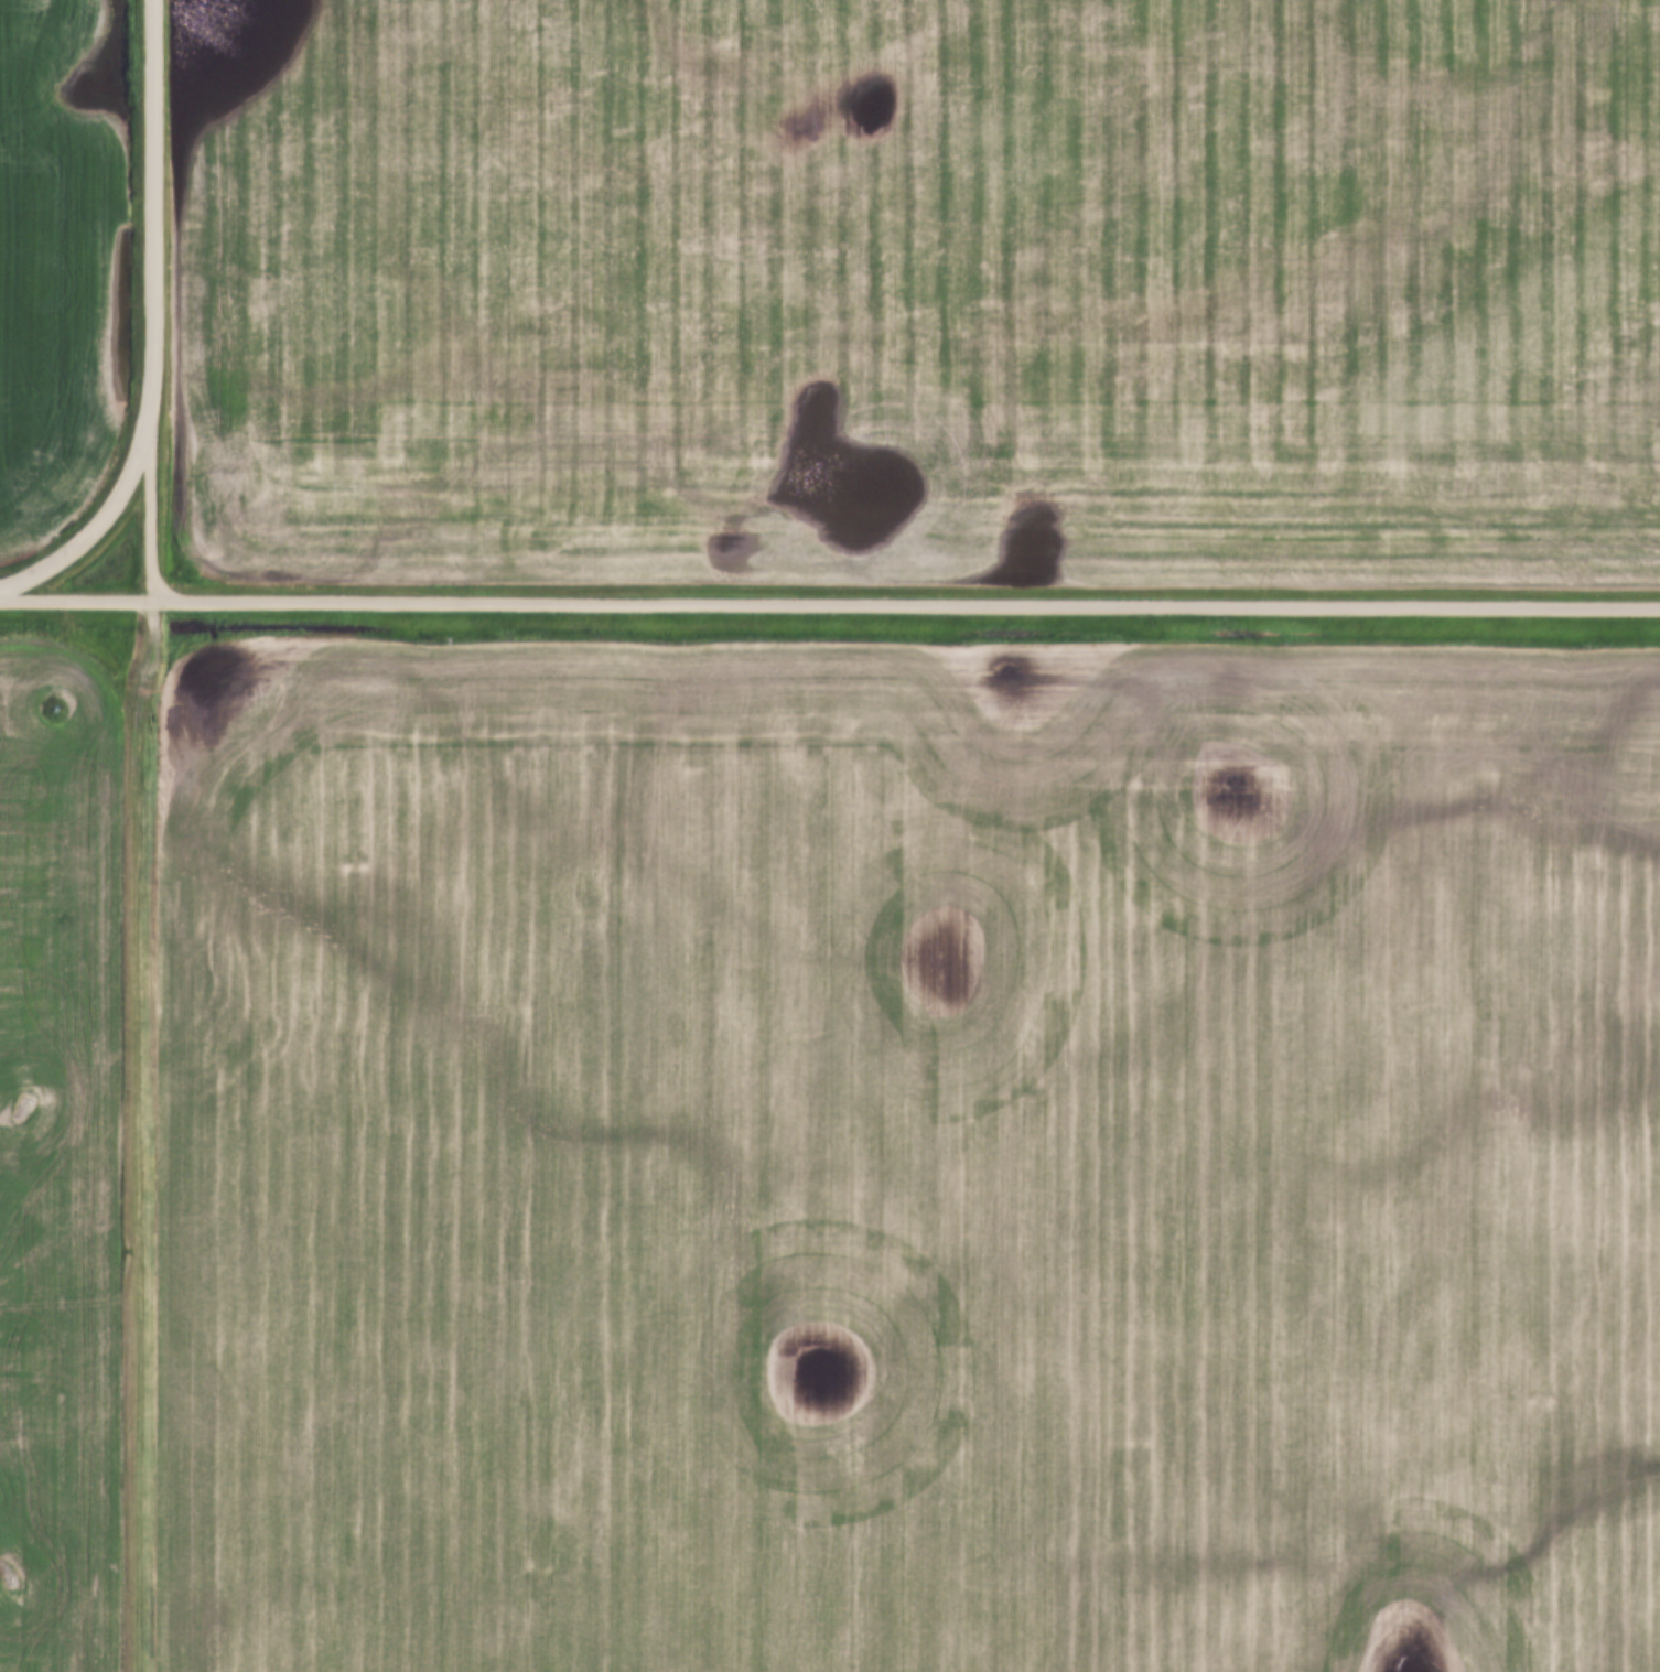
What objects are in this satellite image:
road: (151, 205)
road: (151, 505)
road: (99, 519)
road: (830, 604)
road: (147, 1135)

